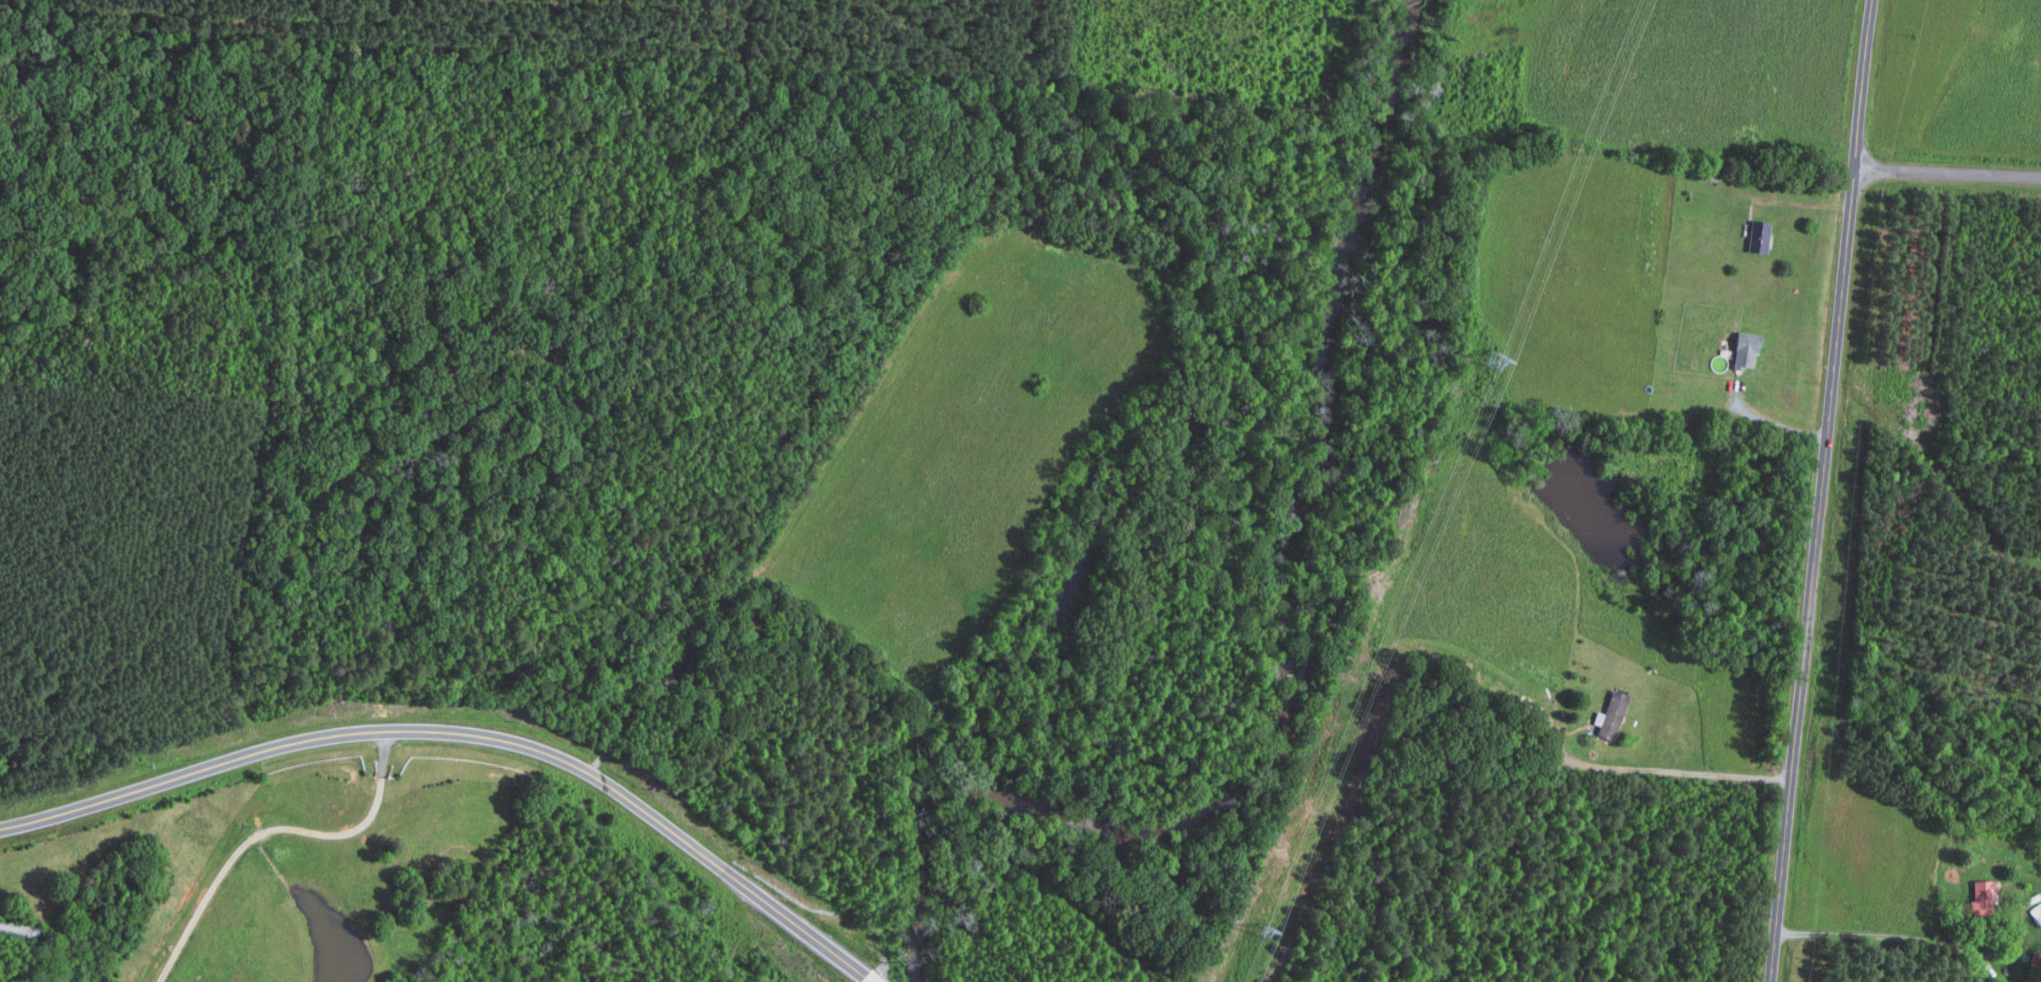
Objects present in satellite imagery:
road: (1947, 172)
building: (1761, 236)
building: (1748, 348)
power tower: (1501, 368)
road: (1774, 423)
road: (1820, 490)
building: (1612, 715)
road: (466, 733)
road: (1676, 771)
road: (271, 830)
building: (1985, 897)
building: (2037, 913)
road: (1880, 935)
power tower: (1269, 944)

